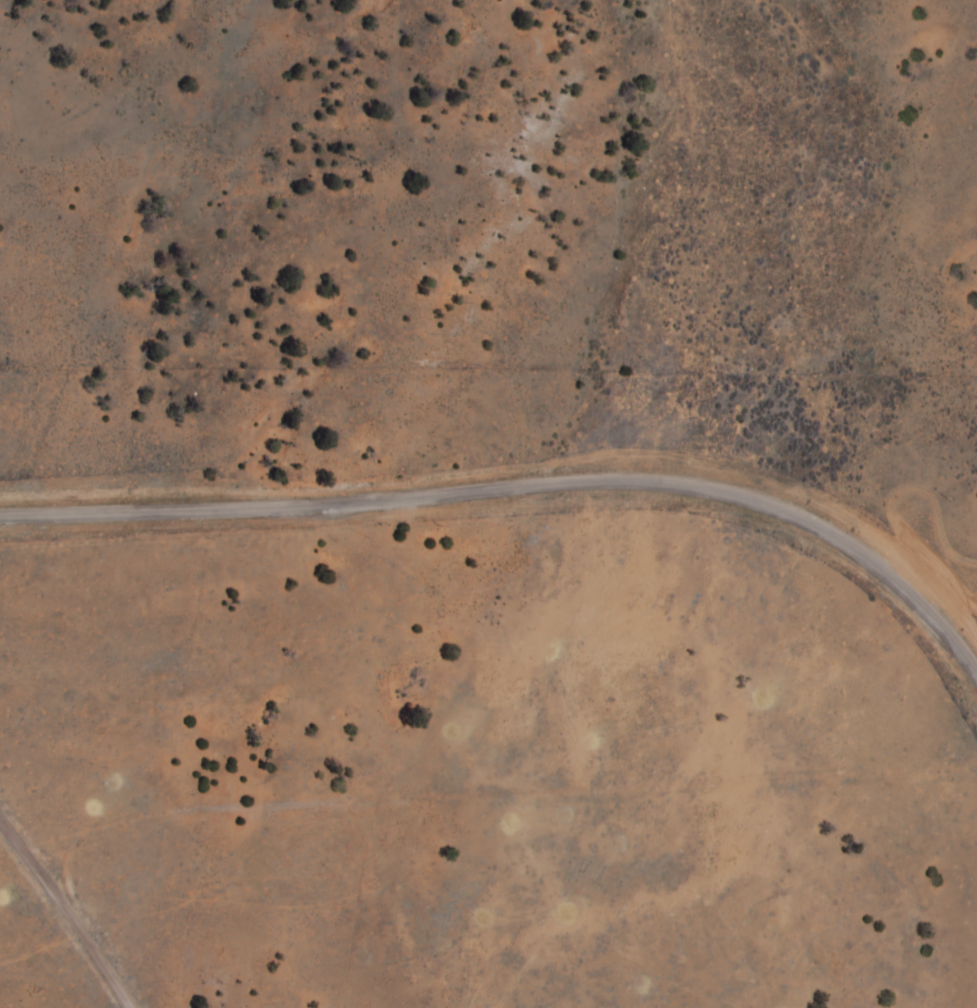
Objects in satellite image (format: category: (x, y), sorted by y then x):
road: (523, 487)

